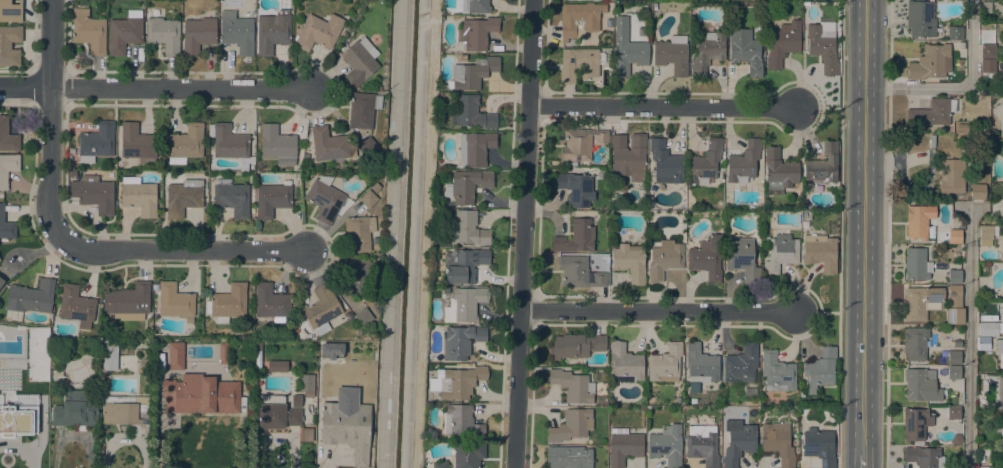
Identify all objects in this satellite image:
building: (654, 5)
building: (475, 6)
building: (10, 11)
building: (580, 19)
building: (920, 19)
building: (88, 31)
building: (125, 32)
building: (236, 32)
building: (272, 32)
building: (318, 32)
building: (476, 33)
building: (955, 33)
building: (163, 34)
building: (198, 35)
building: (783, 43)
building: (961, 45)
building: (10, 46)
building: (823, 46)
building: (626, 49)
building: (745, 51)
building: (988, 51)
building: (707, 53)
building: (672, 55)
building: (358, 62)
building: (930, 63)
building: (579, 64)
building: (987, 69)
building: (472, 73)
road: (156, 88)
road: (958, 88)
road: (663, 106)
road: (819, 108)
building: (362, 110)
building: (932, 113)
building: (471, 114)
road: (50, 123)
building: (1002, 124)
building: (961, 127)
building: (7, 136)
building: (96, 142)
building: (185, 144)
building: (229, 144)
building: (580, 144)
building: (137, 145)
building: (278, 146)
building: (330, 146)
building: (368, 147)
building: (475, 149)
building: (629, 156)
building: (743, 162)
building: (665, 163)
building: (705, 163)
building: (823, 166)
building: (7, 168)
building: (778, 172)
building: (72, 174)
building: (951, 175)
building: (467, 186)
building: (375, 188)
building: (575, 189)
building: (977, 191)
building: (93, 193)
building: (183, 195)
building: (139, 197)
building: (231, 198)
building: (272, 199)
building: (324, 199)
building: (368, 199)
building: (1002, 209)
building: (916, 222)
building: (6, 226)
road: (864, 226)
building: (468, 229)
road: (838, 233)
building: (359, 234)
road: (425, 234)
road: (522, 234)
road: (887, 234)
building: (986, 235)
building: (576, 237)
building: (954, 237)
building: (1001, 243)
building: (820, 252)
road: (187, 253)
building: (780, 253)
building: (956, 255)
building: (706, 258)
building: (741, 258)
building: (665, 259)
building: (629, 262)
building: (464, 265)
building: (916, 265)
building: (578, 273)
building: (355, 276)
building: (954, 276)
building: (1, 282)
building: (0, 287)
building: (155, 287)
building: (445, 290)
building: (1002, 292)
building: (29, 299)
building: (127, 301)
building: (175, 302)
building: (271, 303)
building: (227, 304)
building: (933, 304)
building: (464, 305)
building: (76, 306)
building: (322, 311)
road: (658, 311)
road: (817, 312)
building: (363, 317)
building: (989, 327)
building: (46, 331)
road: (969, 338)
building: (461, 342)
building: (914, 343)
building: (199, 344)
building: (575, 346)
building: (999, 351)
building: (223, 353)
building: (109, 356)
building: (175, 356)
building: (953, 358)
building: (199, 360)
building: (625, 364)
building: (665, 364)
building: (740, 365)
building: (276, 366)
building: (699, 367)
building: (820, 370)
building: (776, 372)
building: (953, 372)
building: (306, 383)
building: (456, 383)
building: (920, 385)
building: (572, 386)
building: (750, 392)
building: (183, 394)
building: (999, 394)
building: (16, 395)
building: (228, 398)
building: (296, 401)
building: (693, 401)
building: (640, 408)
building: (74, 410)
building: (127, 412)
building: (281, 412)
building: (953, 413)
building: (460, 422)
building: (915, 423)
building: (570, 426)
building: (346, 429)
building: (1001, 430)
building: (777, 443)
building: (738, 444)
building: (666, 445)
building: (702, 445)
building: (819, 446)
building: (624, 447)
building: (468, 455)
building: (982, 455)
building: (568, 457)
building: (923, 457)
road: (863, 460)
building: (436, 464)
building: (982, 467)

